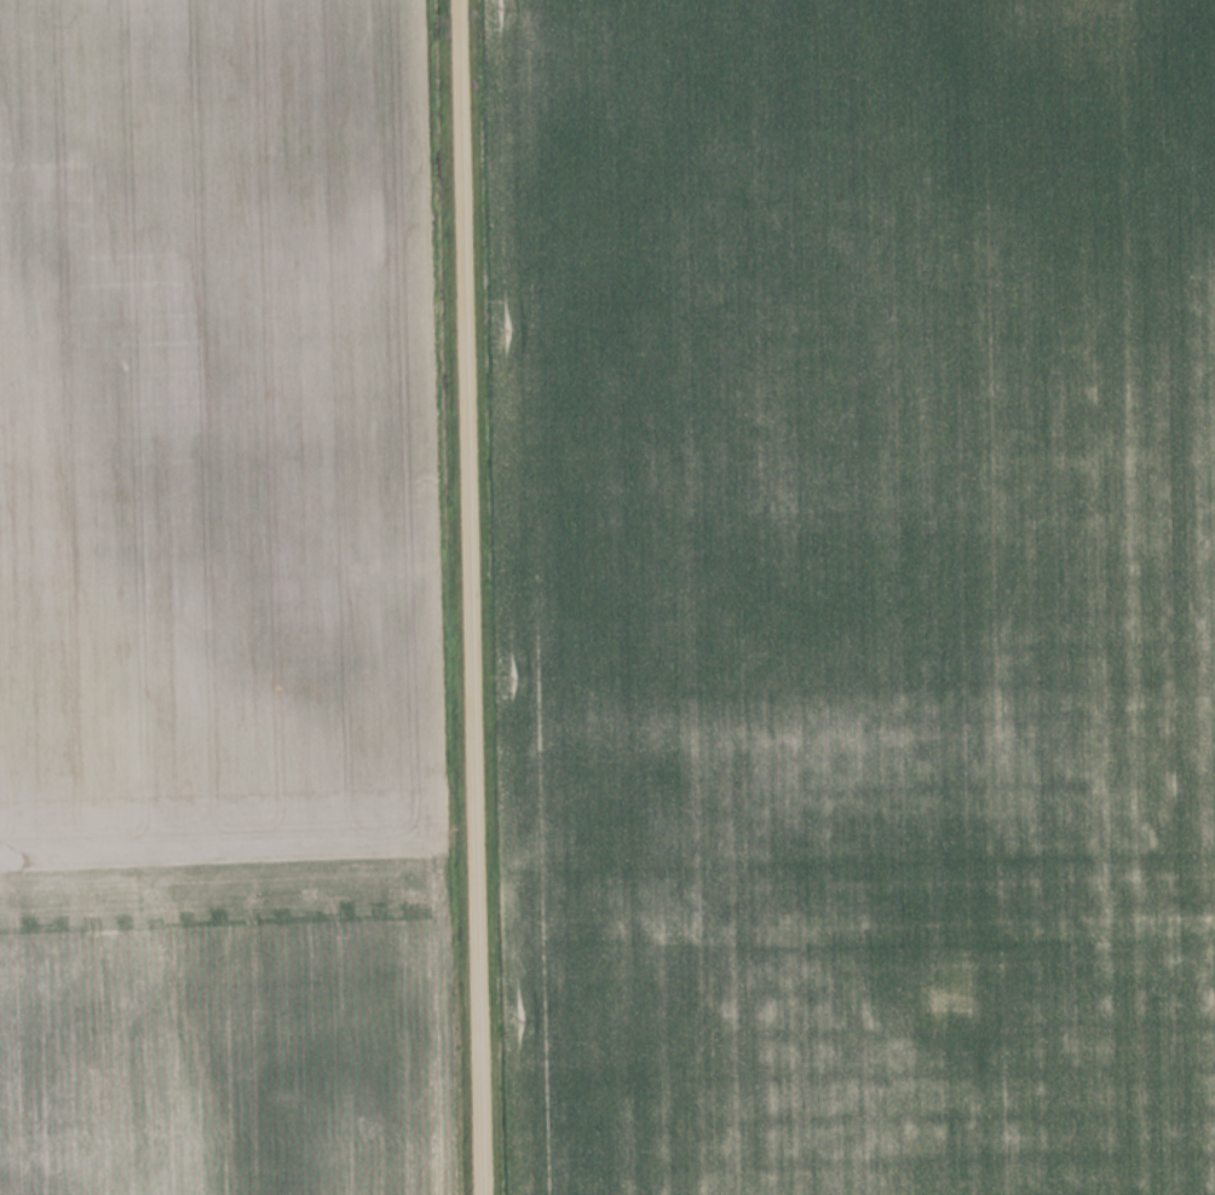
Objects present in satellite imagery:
road: (471, 597)

